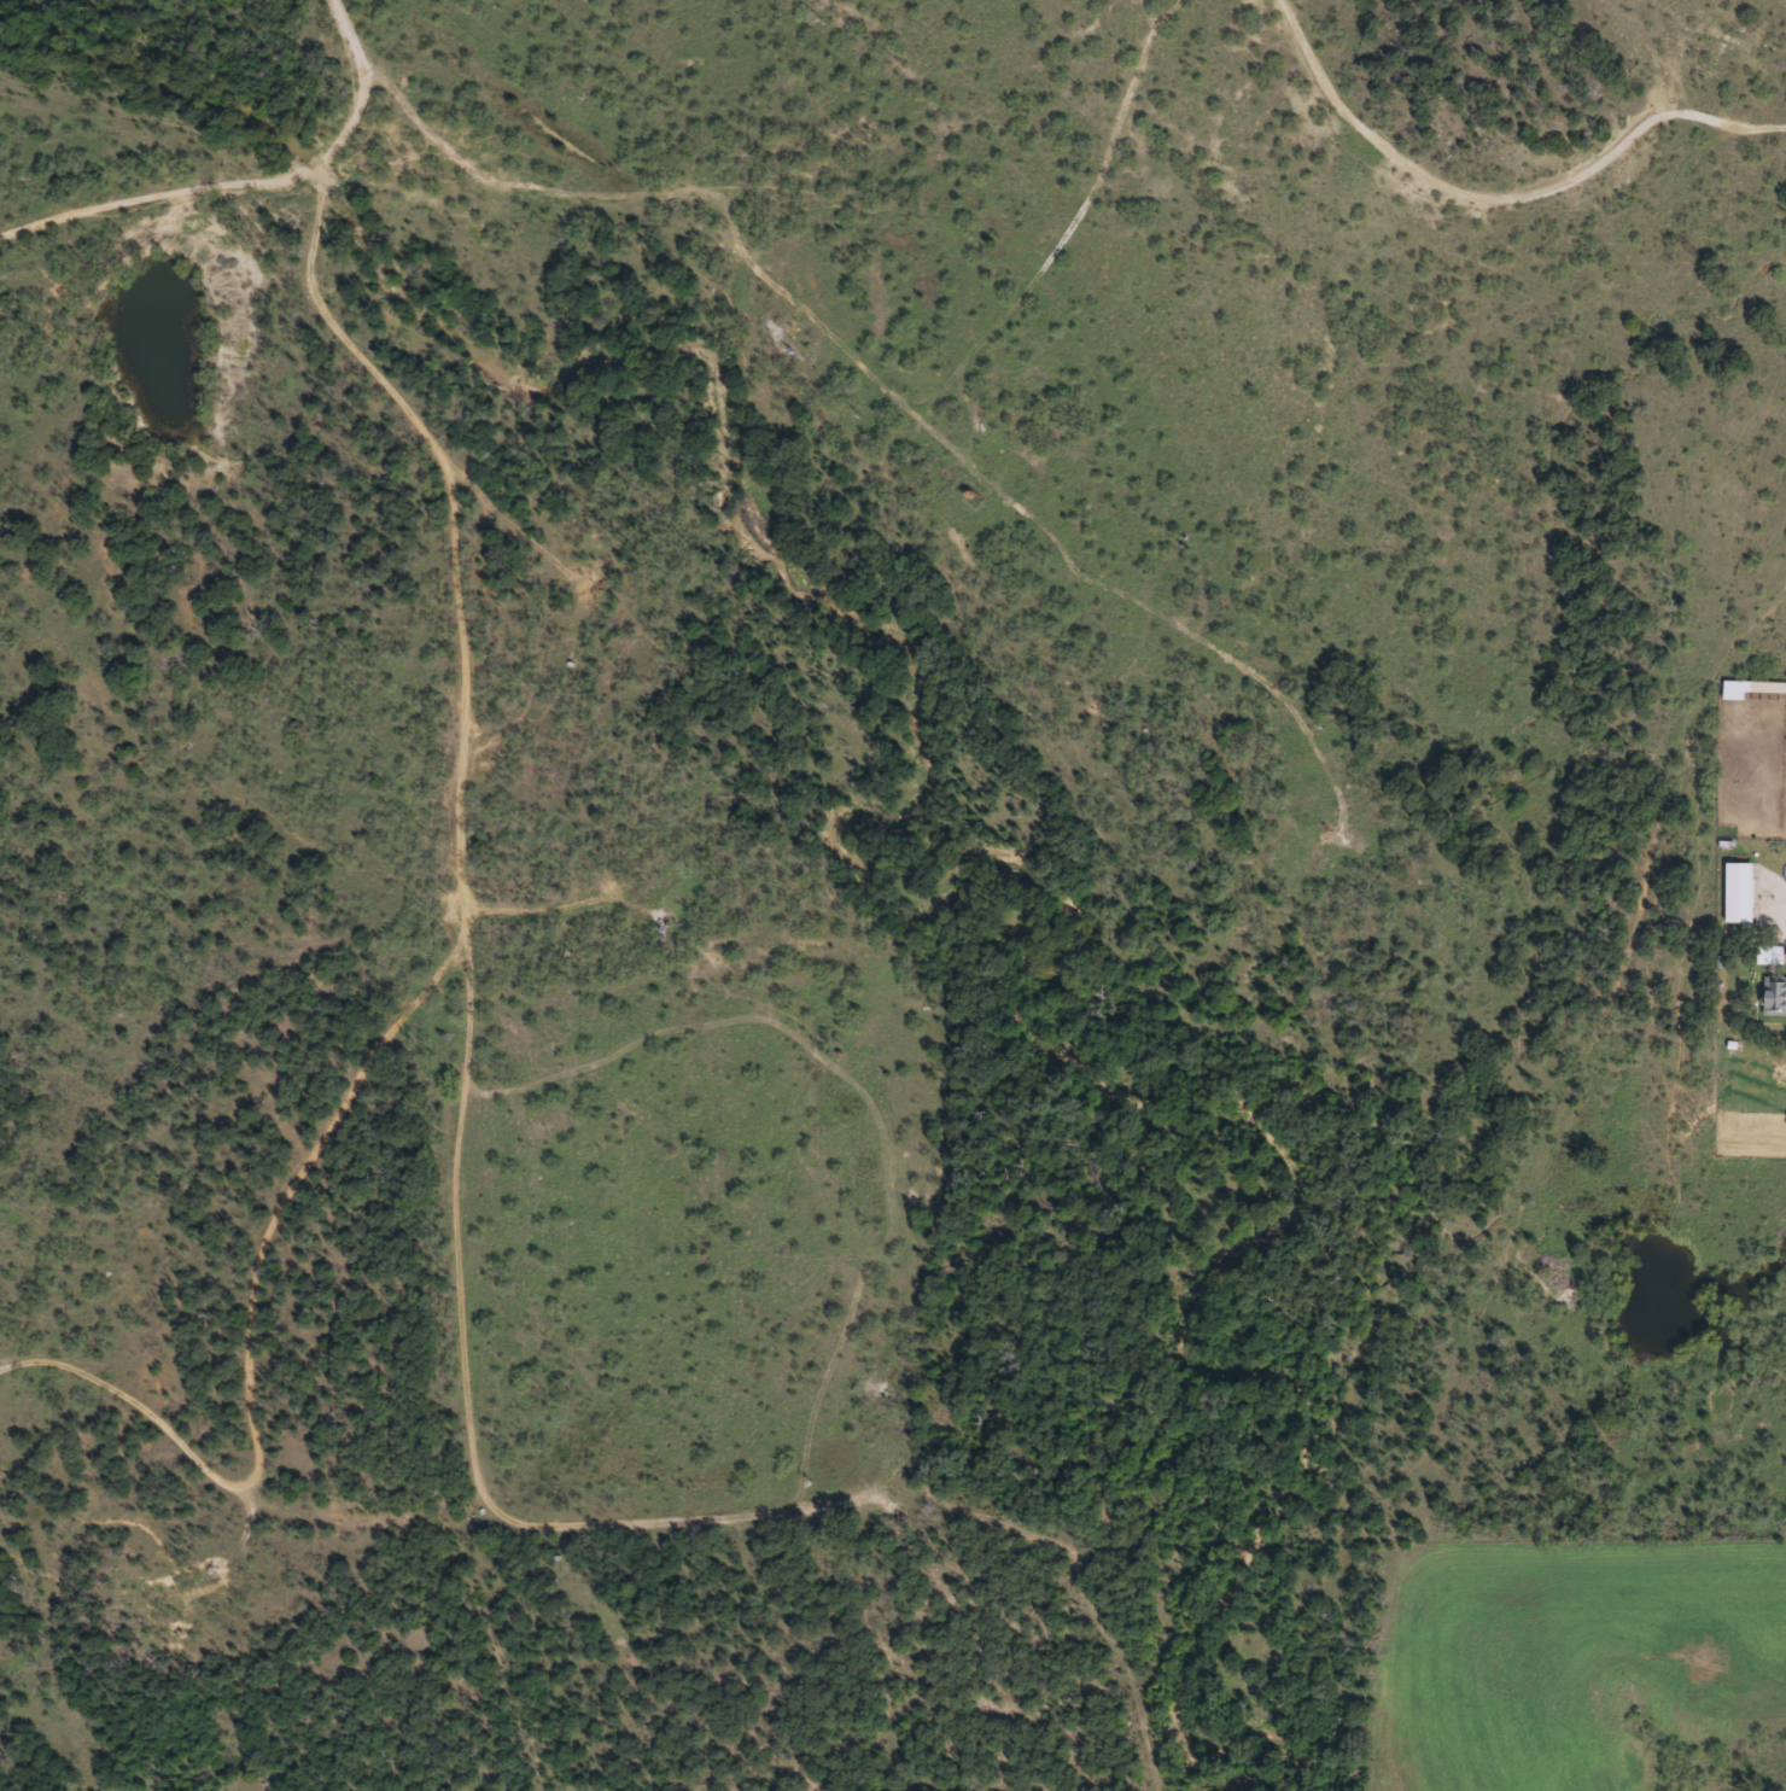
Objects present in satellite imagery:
building: (1743, 894)
building: (1775, 997)

